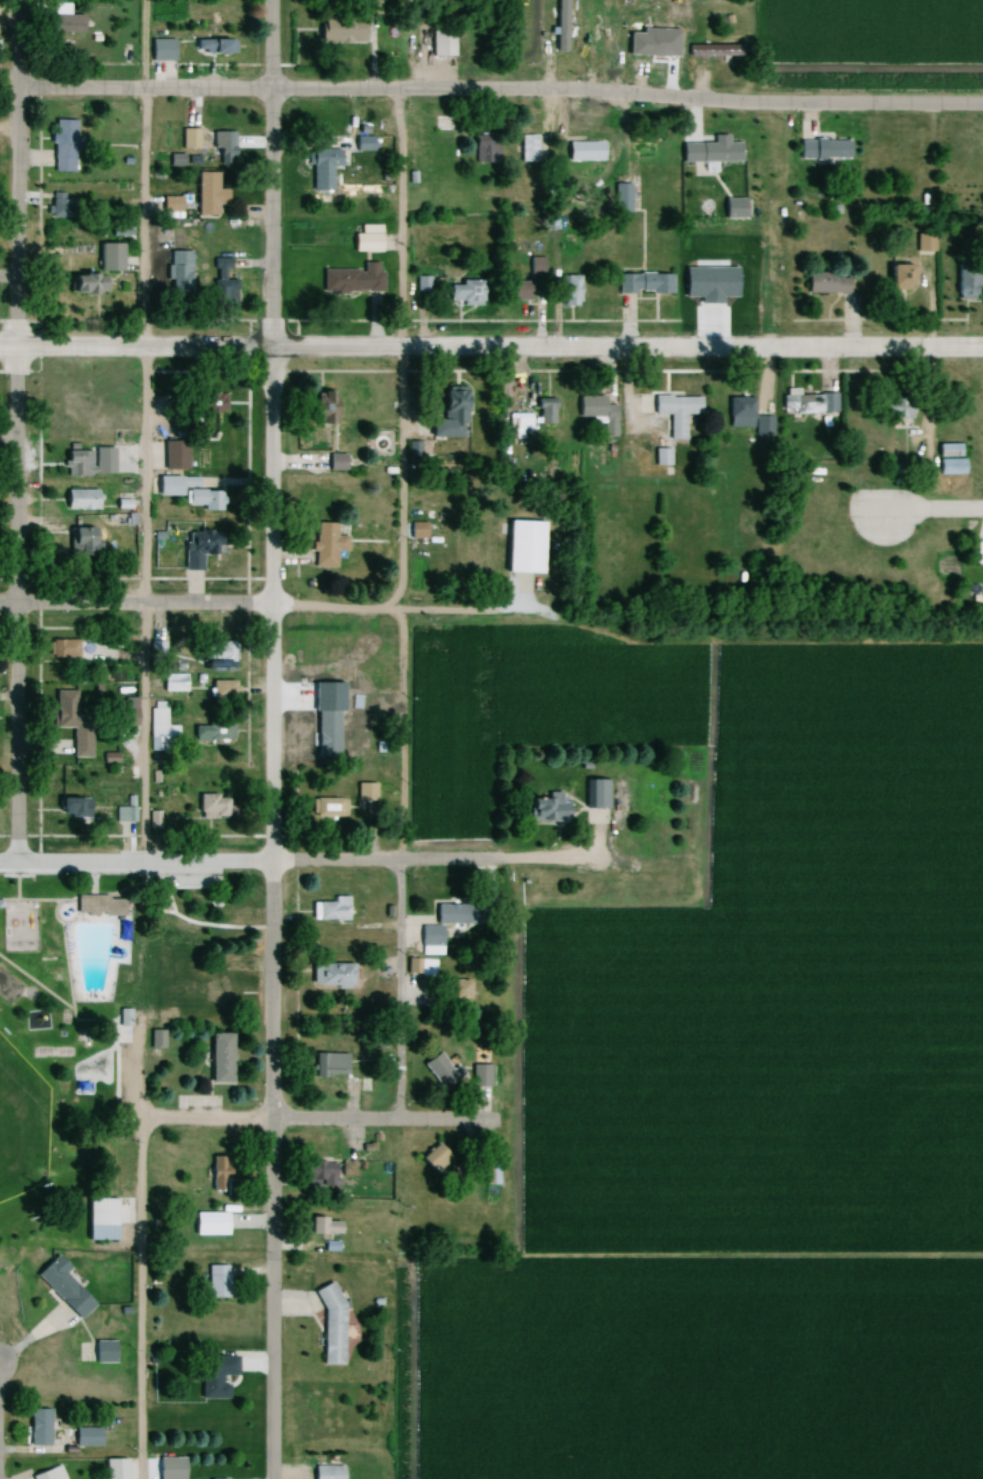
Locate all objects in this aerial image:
building: (66, 25)
building: (561, 26)
building: (594, 27)
building: (343, 32)
building: (215, 47)
building: (160, 50)
building: (715, 51)
road: (500, 93)
building: (441, 125)
building: (189, 138)
building: (362, 144)
building: (585, 145)
building: (63, 146)
building: (222, 148)
building: (483, 149)
building: (529, 149)
building: (824, 149)
building: (708, 153)
building: (322, 158)
building: (208, 192)
building: (621, 198)
building: (63, 208)
building: (732, 209)
building: (162, 237)
building: (366, 239)
building: (924, 243)
building: (108, 257)
building: (535, 266)
building: (179, 271)
building: (897, 275)
building: (963, 280)
building: (351, 281)
building: (81, 283)
building: (223, 283)
building: (643, 283)
building: (826, 283)
building: (427, 288)
building: (516, 290)
building: (569, 290)
building: (464, 292)
road: (491, 349)
building: (452, 402)
building: (210, 403)
building: (808, 403)
building: (324, 407)
building: (593, 407)
building: (896, 408)
road: (399, 409)
building: (740, 410)
building: (544, 411)
building: (674, 412)
building: (518, 425)
building: (96, 426)
road: (142, 431)
road: (15, 432)
building: (173, 455)
building: (660, 457)
building: (88, 461)
building: (335, 462)
building: (166, 486)
building: (80, 499)
building: (204, 499)
road: (921, 507)
building: (81, 540)
building: (522, 542)
building: (326, 545)
building: (200, 547)
building: (982, 551)
road: (134, 603)
building: (62, 649)
building: (217, 652)
building: (172, 683)
building: (219, 689)
building: (124, 712)
building: (70, 722)
building: (160, 729)
building: (213, 731)
road: (269, 739)
building: (321, 757)
building: (365, 792)
building: (590, 800)
building: (211, 806)
building: (71, 807)
building: (328, 807)
building: (547, 807)
building: (125, 812)
road: (294, 862)
building: (98, 906)
building: (328, 912)
building: (430, 941)
crop: (746, 941)
building: (421, 968)
building: (331, 975)
building: (217, 989)
building: (383, 990)
road: (398, 990)
building: (456, 995)
building: (156, 1039)
building: (218, 1059)
building: (327, 1063)
building: (441, 1073)
road: (332, 1120)
park: (21, 1125)
building: (433, 1159)
building: (218, 1174)
building: (319, 1174)
building: (490, 1175)
building: (101, 1219)
road: (516, 1222)
building: (210, 1223)
building: (323, 1226)
building: (215, 1282)
building: (63, 1288)
road: (139, 1297)
building: (330, 1325)
building: (103, 1353)
building: (211, 1378)
building: (38, 1428)
building: (86, 1438)
building: (329, 1473)
building: (49, 1474)

